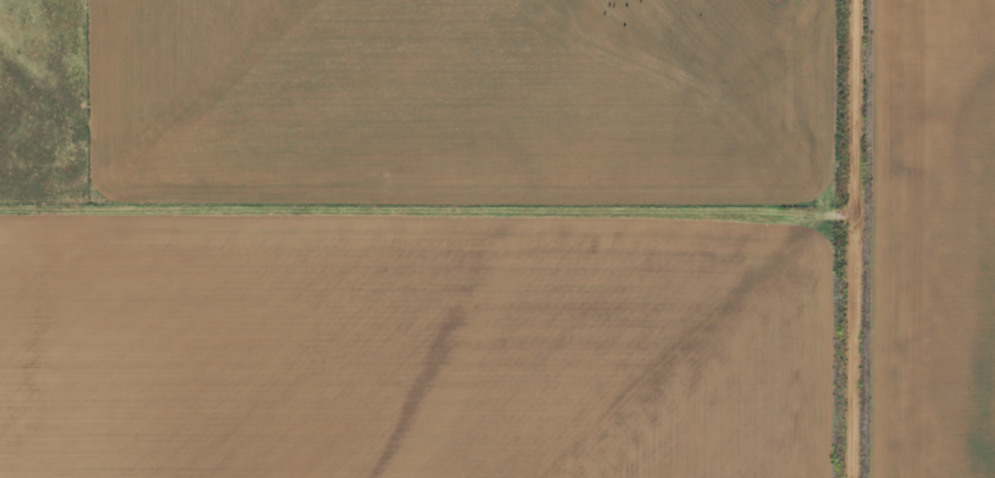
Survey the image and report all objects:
road: (396, 238)
road: (793, 238)

